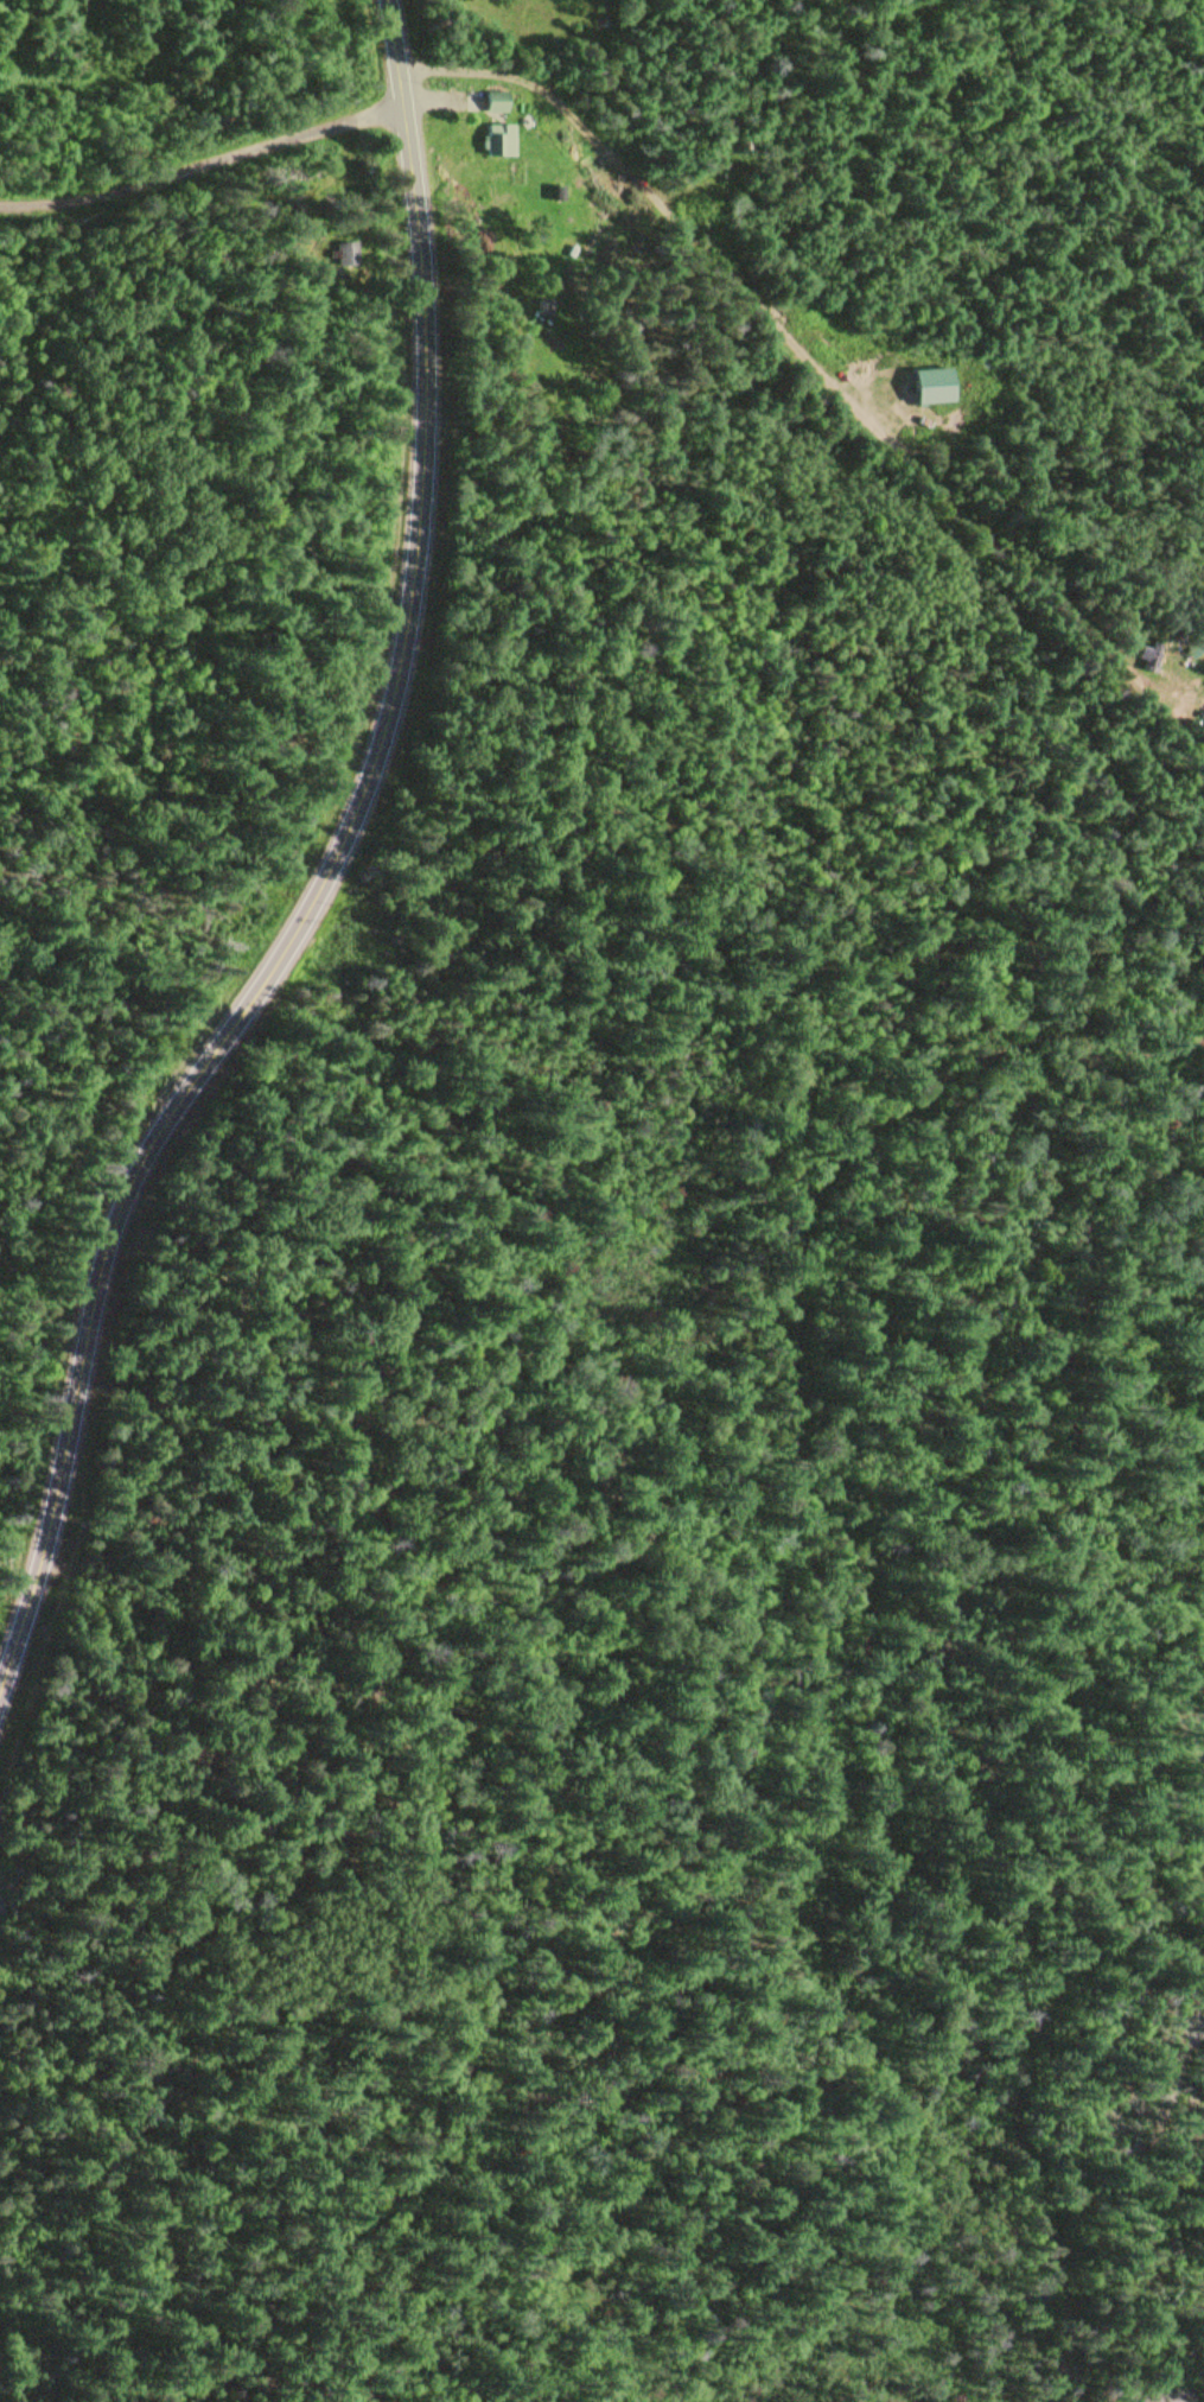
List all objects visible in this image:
building: (497, 140)
road: (203, 165)
building: (345, 253)
building: (924, 383)
building: (1149, 656)
road: (330, 871)

